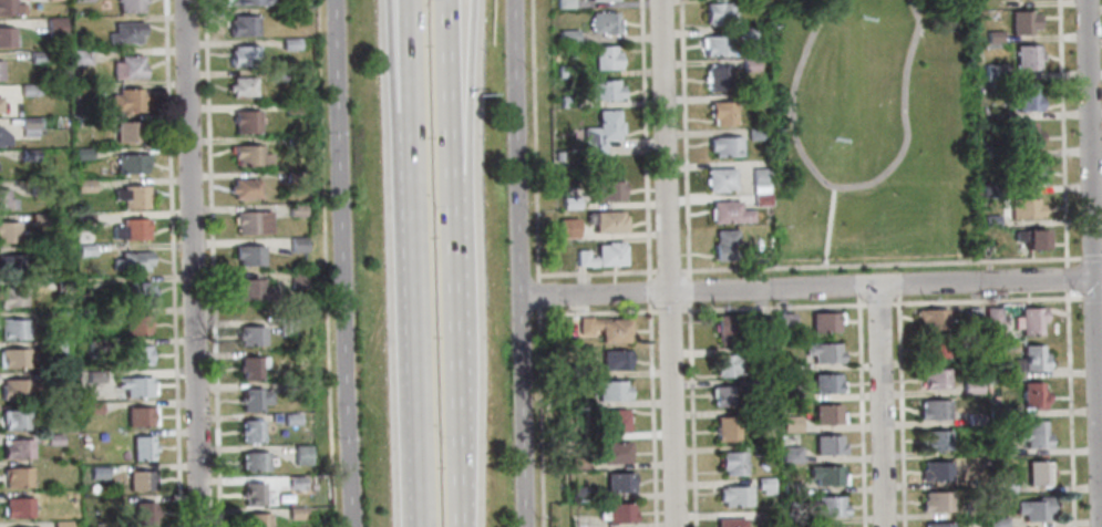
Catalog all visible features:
building: (80, 0)
building: (604, 0)
building: (245, 2)
building: (563, 2)
building: (127, 6)
building: (9, 8)
building: (717, 13)
building: (603, 22)
building: (1021, 22)
building: (53, 25)
building: (243, 25)
building: (125, 31)
building: (743, 32)
building: (565, 34)
building: (6, 37)
building: (992, 38)
building: (289, 44)
building: (715, 45)
building: (35, 56)
building: (80, 56)
building: (245, 56)
building: (1024, 58)
building: (605, 60)
building: (749, 64)
building: (126, 66)
building: (1, 70)
road: (403, 70)
road: (410, 70)
building: (564, 71)
building: (992, 72)
building: (276, 75)
building: (715, 79)
building: (239, 86)
building: (25, 90)
building: (80, 90)
building: (603, 90)
building: (1021, 99)
building: (125, 100)
building: (753, 100)
building: (566, 101)
building: (1, 103)
road: (449, 106)
road: (459, 106)
building: (292, 107)
building: (721, 113)
building: (245, 120)
building: (27, 126)
building: (126, 130)
park: (873, 131)
building: (599, 132)
road: (1061, 133)
building: (754, 134)
building: (1026, 135)
building: (3, 137)
road: (643, 138)
road: (682, 138)
road: (533, 139)
building: (292, 142)
road: (321, 144)
building: (723, 146)
building: (28, 153)
building: (81, 153)
building: (247, 155)
building: (556, 156)
building: (130, 162)
building: (1029, 174)
building: (292, 176)
building: (719, 178)
building: (758, 179)
building: (83, 185)
road: (847, 186)
building: (243, 187)
building: (608, 190)
building: (130, 196)
building: (4, 199)
building: (761, 199)
building: (568, 201)
building: (1019, 208)
building: (293, 210)
building: (727, 211)
building: (37, 218)
building: (606, 220)
building: (990, 220)
building: (82, 221)
building: (250, 221)
road: (827, 226)
building: (565, 227)
building: (128, 229)
building: (10, 232)
building: (1030, 238)
building: (297, 244)
building: (723, 245)
building: (84, 250)
building: (247, 254)
building: (601, 254)
road: (418, 256)
road: (1092, 257)
building: (130, 260)
road: (169, 262)
road: (209, 262)
building: (12, 263)
road: (192, 263)
road: (342, 263)
road: (518, 263)
road: (667, 263)
road: (880, 263)
road: (1093, 263)
road: (667, 270)
road: (595, 272)
road: (1067, 278)
building: (296, 279)
building: (62, 285)
road: (811, 287)
building: (251, 289)
building: (137, 290)
road: (688, 290)
road: (897, 290)
road: (649, 291)
road: (857, 291)
road: (537, 293)
building: (11, 296)
road: (1091, 297)
road: (986, 300)
road: (877, 303)
road: (772, 307)
road: (669, 310)
road: (597, 312)
building: (975, 314)
building: (995, 314)
building: (934, 317)
building: (1031, 319)
building: (784, 321)
building: (823, 321)
building: (134, 323)
building: (760, 324)
building: (286, 327)
building: (604, 328)
building: (12, 329)
building: (727, 329)
building: (250, 334)
building: (94, 345)
building: (935, 345)
building: (52, 350)
building: (822, 352)
building: (135, 354)
building: (758, 354)
building: (1036, 358)
building: (12, 359)
building: (612, 359)
building: (725, 364)
building: (786, 364)
building: (249, 366)
road: (456, 370)
building: (576, 370)
building: (997, 372)
building: (93, 375)
building: (52, 378)
building: (936, 378)
building: (825, 383)
building: (132, 384)
building: (288, 386)
building: (972, 386)
building: (16, 389)
building: (610, 390)
building: (789, 394)
building: (1034, 394)
building: (724, 395)
building: (251, 397)
road: (879, 406)
building: (92, 407)
building: (935, 407)
road: (328, 409)
road: (1069, 409)
road: (900, 410)
road: (859, 411)
building: (997, 411)
road: (691, 414)
building: (751, 414)
building: (826, 414)
building: (138, 415)
road: (650, 415)
road: (538, 416)
building: (977, 417)
building: (289, 418)
building: (13, 420)
building: (612, 420)
building: (791, 424)
building: (725, 427)
building: (249, 430)
building: (1034, 433)
building: (51, 438)
building: (938, 438)
building: (82, 441)
building: (826, 445)
building: (140, 447)
building: (14, 448)
building: (1003, 448)
road: (423, 449)
building: (759, 449)
building: (612, 452)
building: (300, 454)
building: (790, 454)
building: (253, 461)
building: (577, 463)
building: (730, 463)
building: (760, 465)
building: (938, 469)
building: (95, 472)
building: (1040, 472)
building: (825, 475)
building: (16, 476)
building: (137, 479)
building: (295, 482)
building: (617, 482)
building: (1005, 484)
building: (763, 485)
building: (791, 486)
building: (577, 493)
building: (253, 494)
building: (733, 496)
building: (938, 500)
building: (827, 505)
building: (16, 507)
building: (1036, 507)
building: (975, 509)
building: (617, 512)
building: (295, 513)
building: (142, 514)
building: (791, 517)
building: (253, 519)
building: (728, 521)
building: (999, 521)
building: (60, 524)
building: (940, 524)
building: (834, 526)

